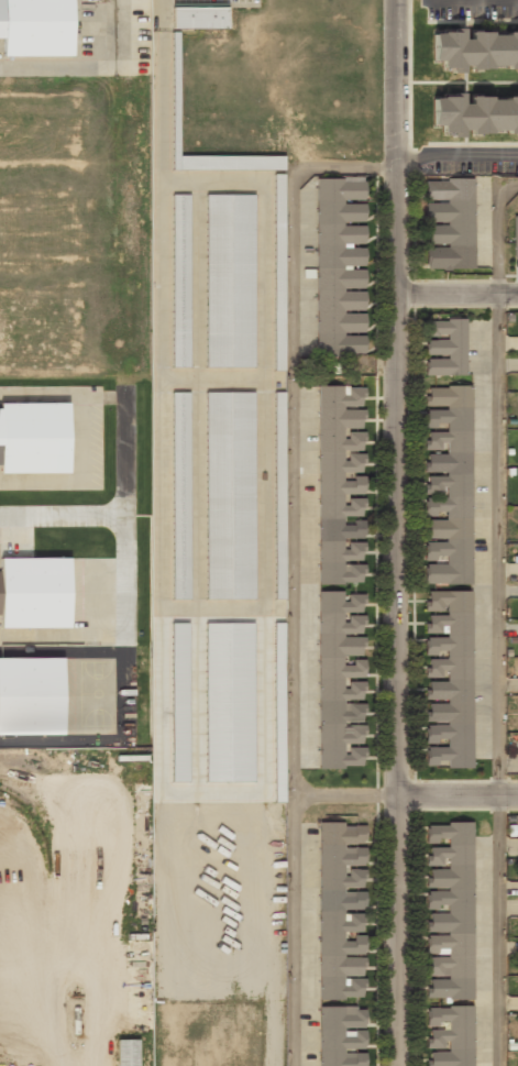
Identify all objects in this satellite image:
road: (470, 0)
building: (200, 19)
building: (35, 28)
building: (474, 50)
building: (475, 114)
road: (454, 163)
building: (449, 226)
building: (516, 238)
building: (341, 267)
building: (279, 271)
building: (181, 282)
building: (230, 282)
road: (454, 296)
building: (445, 349)
building: (33, 437)
building: (341, 486)
building: (448, 486)
building: (180, 496)
building: (230, 496)
building: (279, 496)
road: (63, 515)
road: (126, 517)
road: (392, 532)
road: (291, 570)
building: (34, 592)
road: (496, 619)
building: (342, 679)
building: (448, 679)
building: (31, 695)
building: (179, 701)
building: (229, 702)
road: (454, 790)
road: (342, 794)
airport: (74, 910)
building: (342, 911)
building: (449, 912)
building: (342, 1035)
building: (450, 1035)
building: (128, 1054)
building: (517, 1060)

